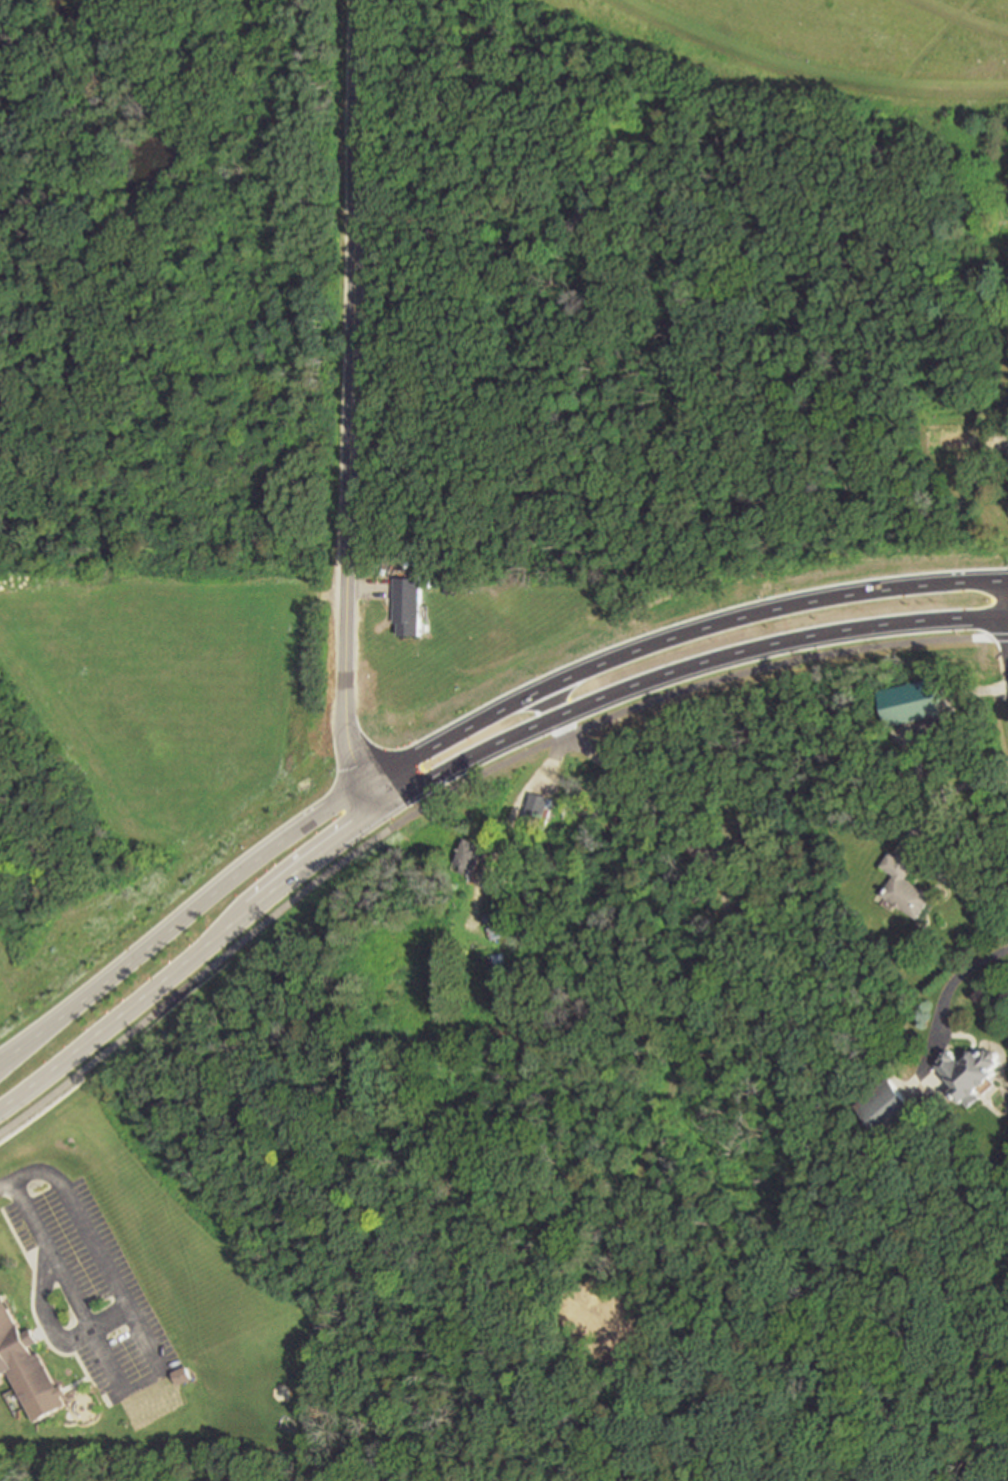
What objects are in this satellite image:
track: (965, 15)
road: (962, 17)
road: (929, 43)
track: (735, 45)
road: (808, 73)
building: (996, 294)
road: (353, 409)
building: (964, 439)
building: (409, 604)
building: (914, 700)
crop: (179, 706)
road: (463, 722)
road: (932, 727)
road: (491, 752)
road: (504, 763)
road: (536, 785)
road: (950, 790)
building: (538, 807)
building: (738, 848)
building: (471, 854)
building: (908, 885)
building: (495, 919)
road: (950, 980)
road: (704, 984)
crop: (11, 1010)
road: (3, 1061)
road: (3, 1064)
building: (969, 1073)
road: (28, 1088)
road: (43, 1107)
building: (887, 1107)
road: (96, 1246)
parking lot: (97, 1290)
road: (77, 1302)
road: (45, 1312)
road: (109, 1318)
building: (27, 1363)
building: (182, 1373)
building: (1, 1379)
building: (0, 1383)

